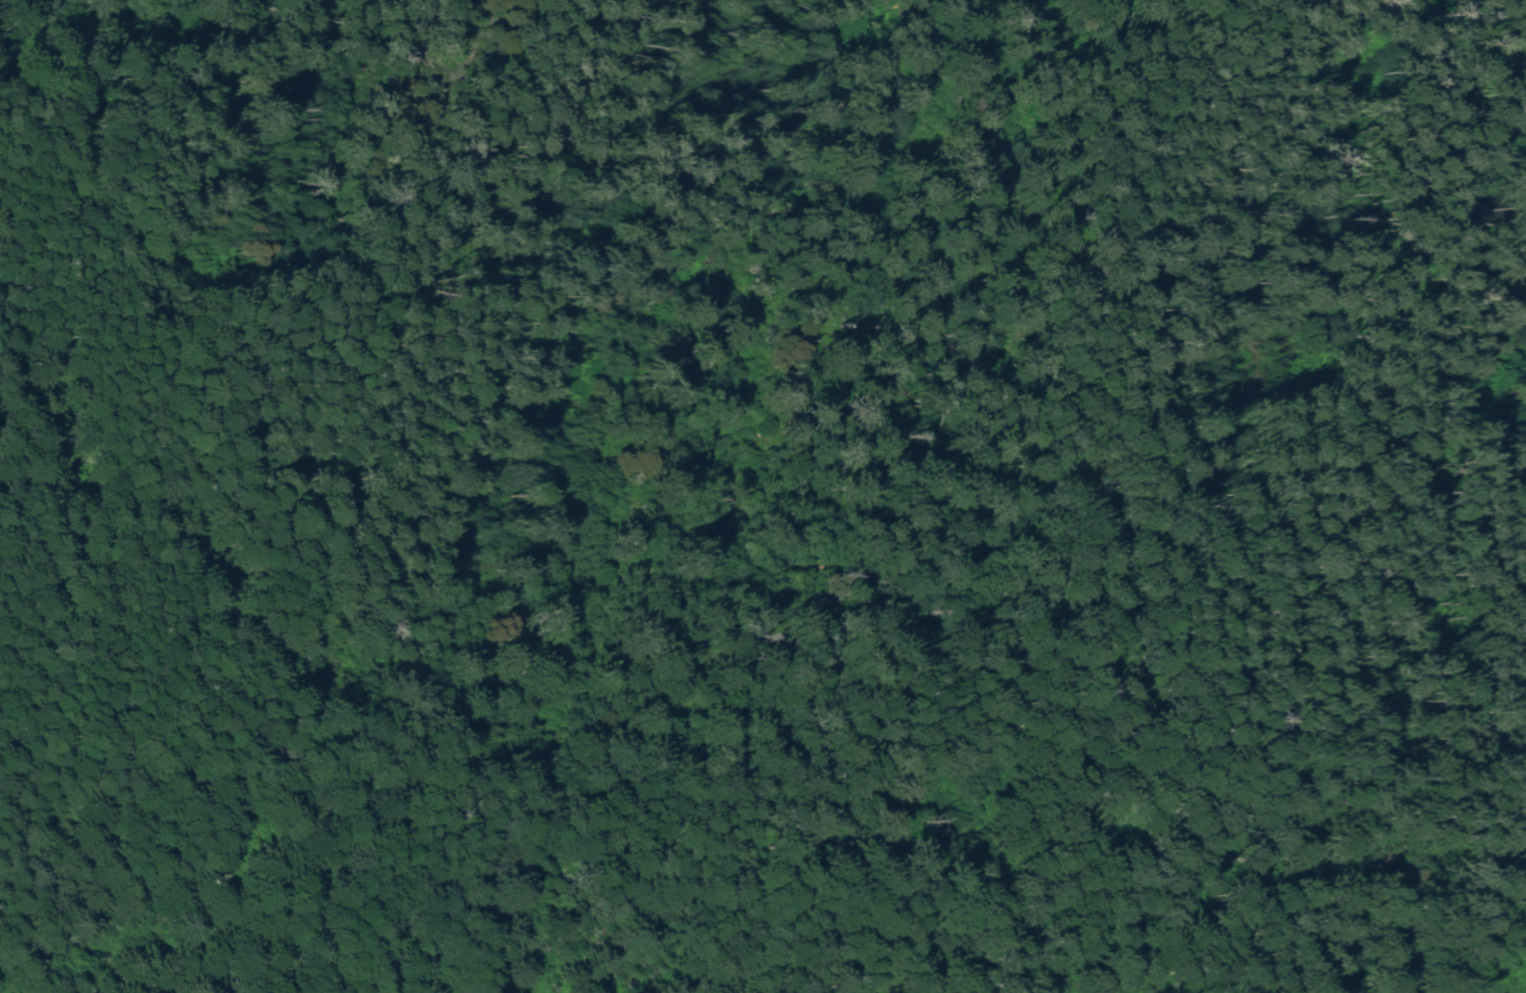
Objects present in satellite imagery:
road: (888, 709)
road: (214, 720)

